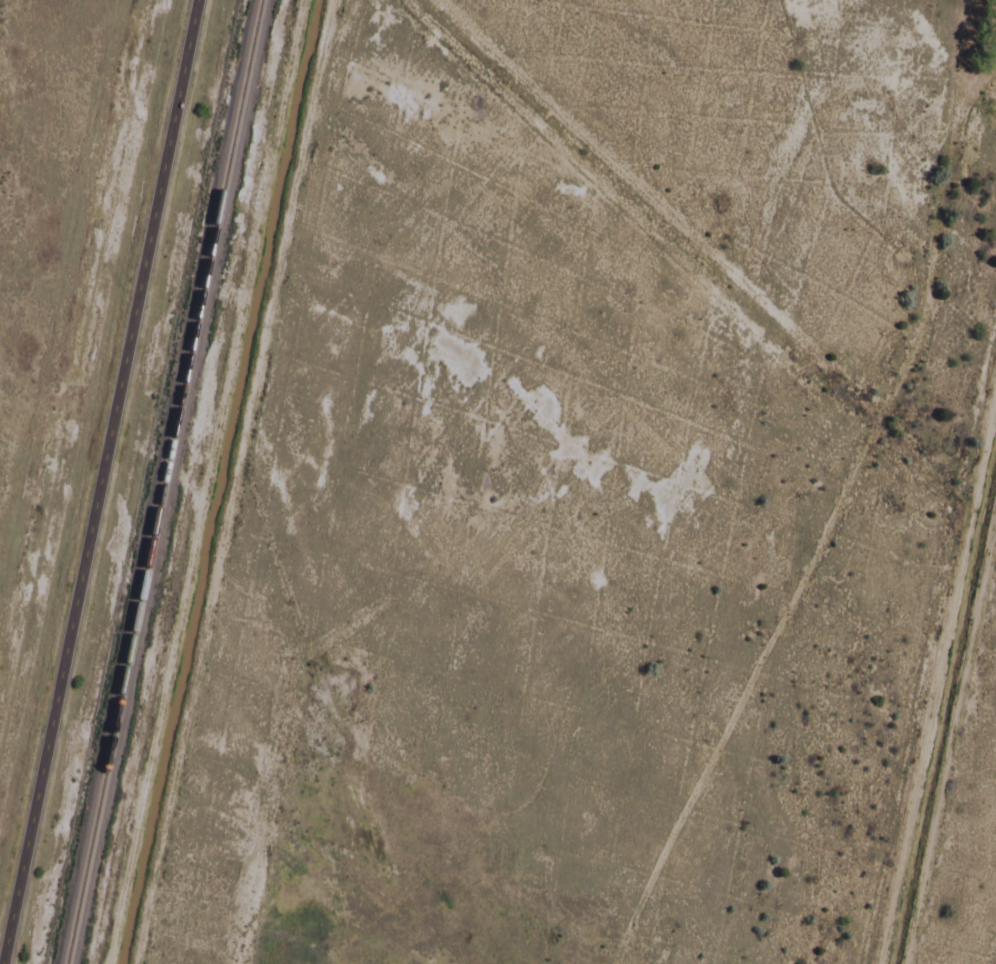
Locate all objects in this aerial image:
road: (98, 482)
railway: (160, 482)
road: (205, 482)
road: (232, 482)
road: (937, 673)
road: (950, 736)

